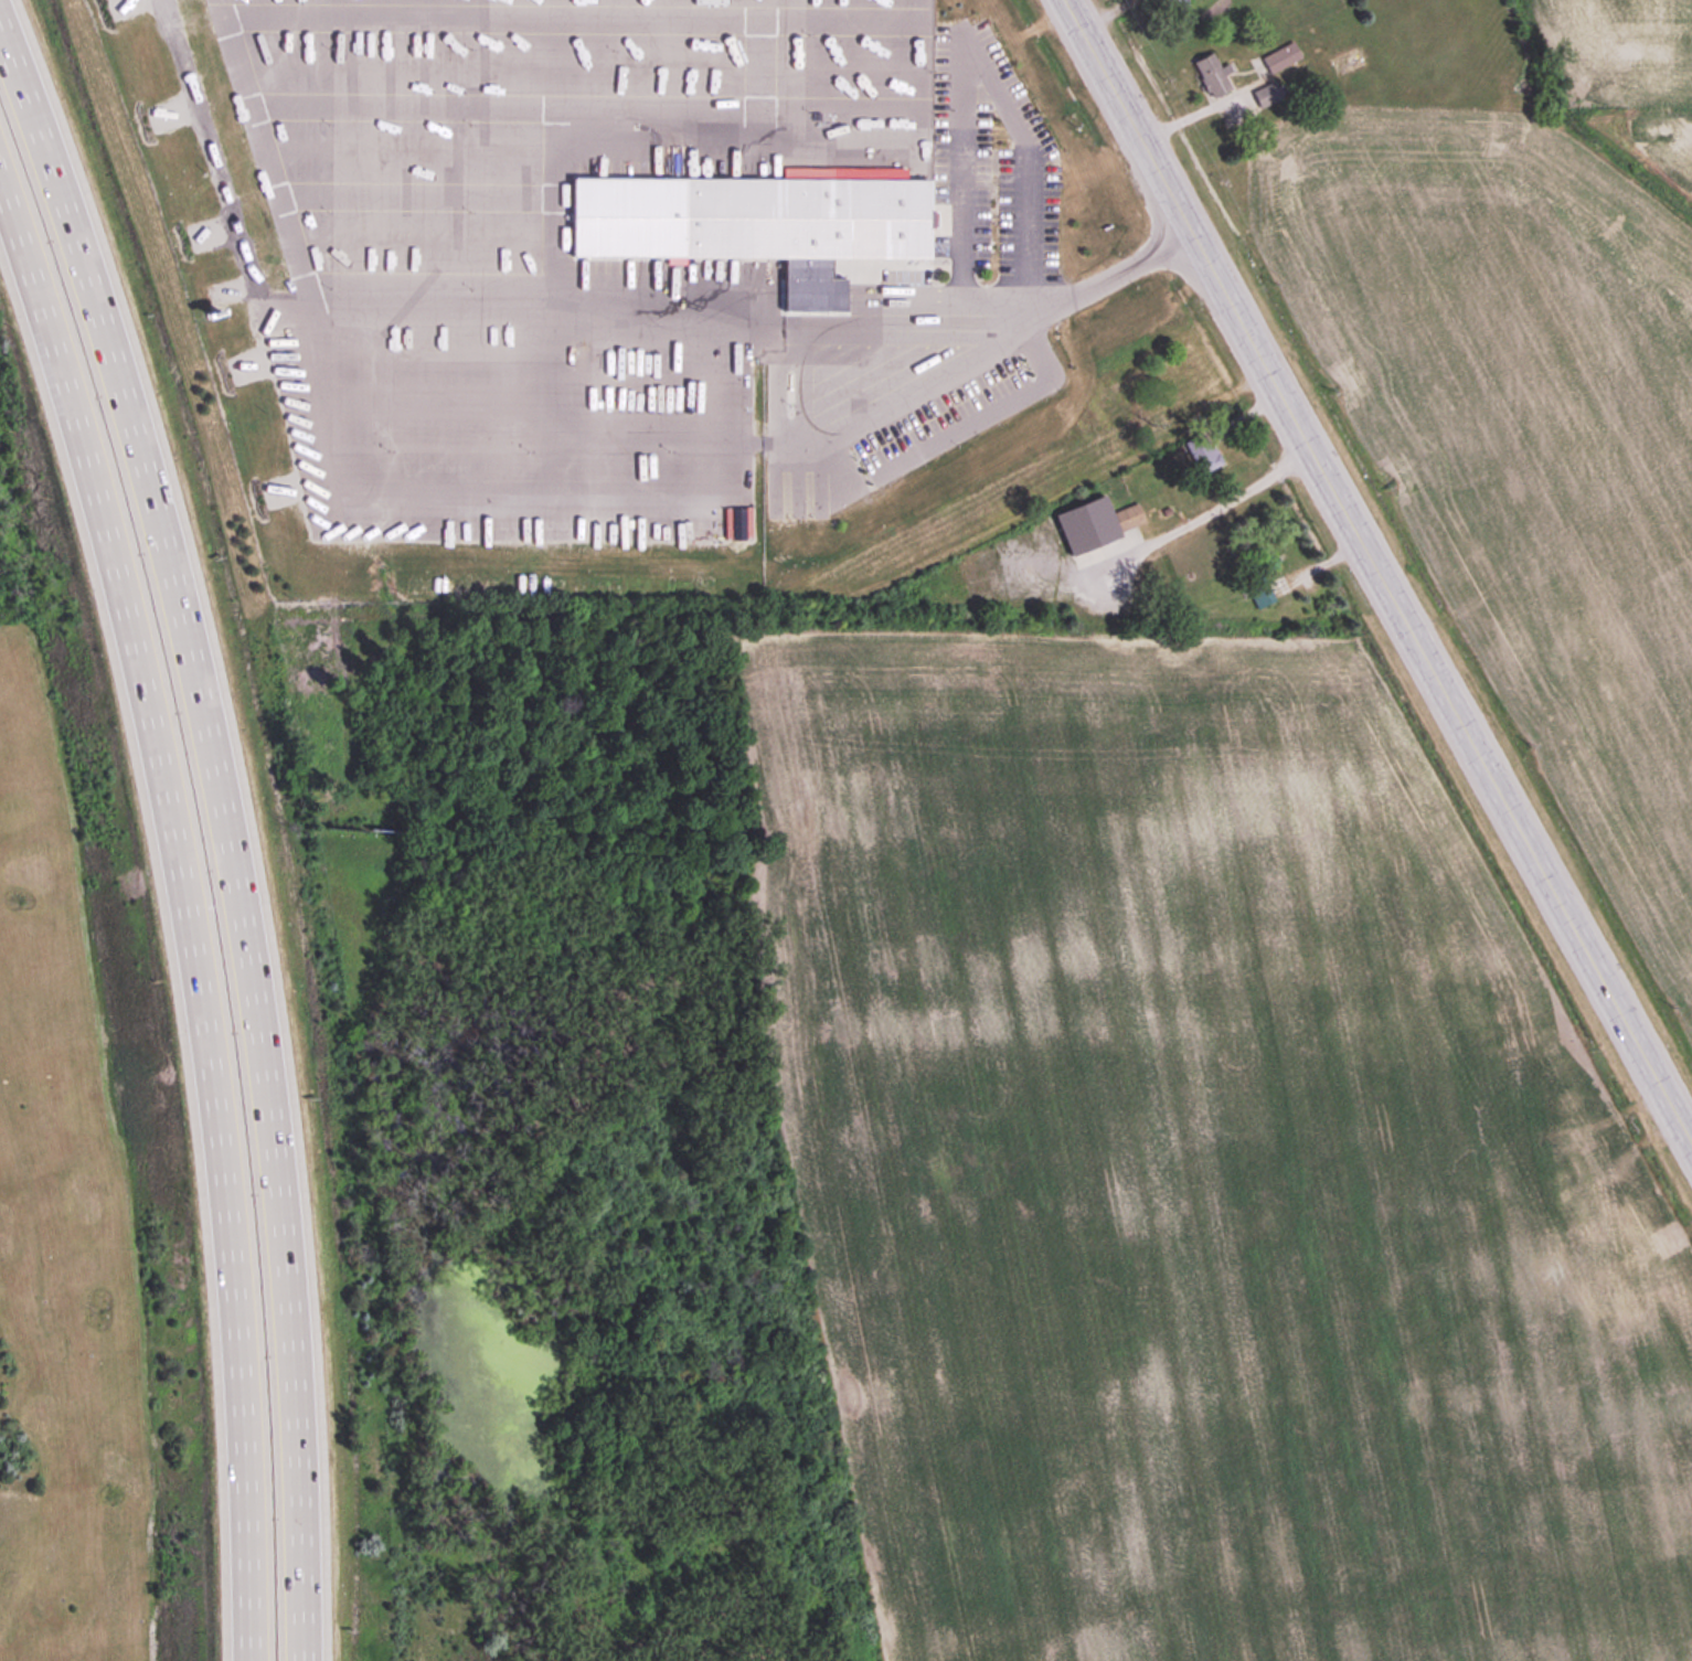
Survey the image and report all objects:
building: (1173, 4)
building: (959, 38)
building: (1280, 58)
road: (975, 61)
building: (1348, 63)
building: (1212, 74)
building: (941, 75)
building: (1268, 95)
building: (799, 217)
building: (1178, 396)
crop: (1534, 402)
building: (1179, 424)
road: (845, 430)
building: (1203, 452)
road: (1205, 508)
building: (1094, 522)
road: (1376, 573)
building: (1259, 578)
road: (234, 817)
road: (183, 918)
crop: (1200, 1170)

